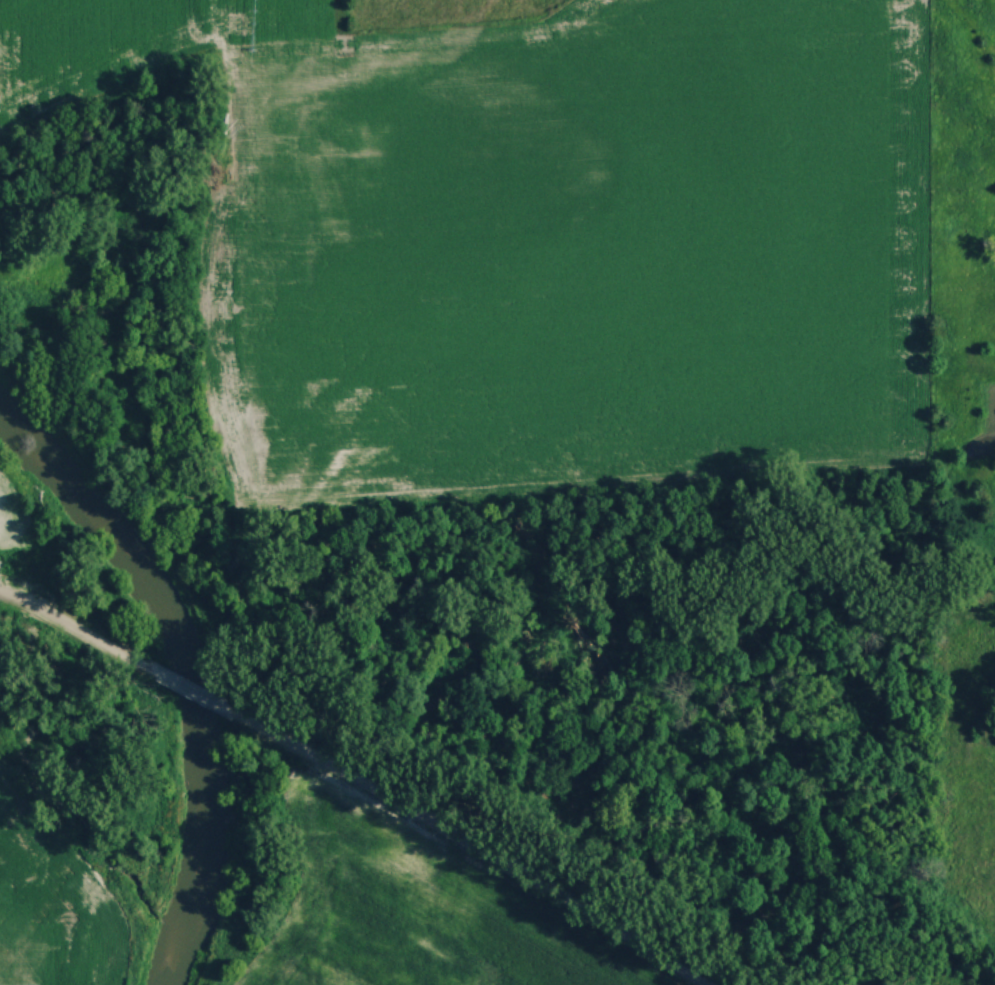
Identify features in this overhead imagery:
road: (78, 629)
river: (188, 668)
road: (193, 688)
road: (469, 843)

